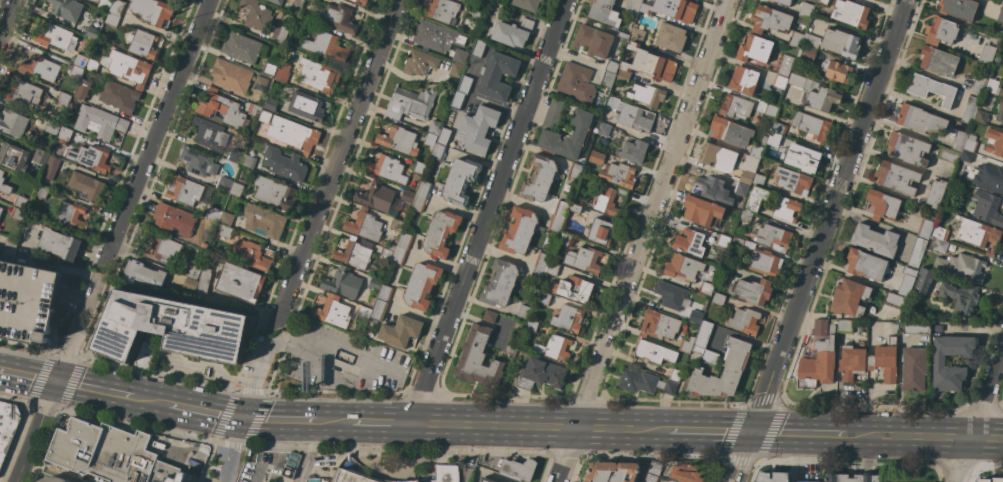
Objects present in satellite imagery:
building: (315, 1)
building: (823, 1)
building: (276, 2)
building: (299, 2)
building: (360, 2)
building: (783, 2)
building: (1002, 2)
building: (105, 4)
building: (528, 4)
building: (117, 7)
building: (958, 8)
building: (66, 9)
building: (633, 9)
building: (673, 9)
building: (442, 10)
building: (806, 10)
building: (152, 11)
building: (604, 12)
building: (255, 13)
building: (850, 13)
building: (1000, 14)
road: (6, 16)
building: (335, 16)
building: (112, 19)
building: (770, 19)
building: (300, 22)
building: (941, 31)
building: (93, 32)
building: (281, 32)
building: (513, 32)
building: (623, 35)
building: (637, 35)
building: (56, 37)
building: (671, 37)
building: (440, 39)
building: (796, 39)
building: (811, 40)
building: (593, 41)
building: (142, 43)
building: (840, 43)
building: (242, 47)
building: (326, 47)
building: (478, 48)
building: (755, 48)
building: (808, 53)
building: (987, 53)
building: (81, 60)
building: (938, 60)
building: (419, 62)
building: (612, 63)
building: (649, 63)
building: (1002, 63)
building: (785, 64)
building: (123, 67)
building: (39, 68)
building: (269, 69)
building: (455, 69)
building: (836, 70)
building: (76, 71)
building: (282, 72)
building: (318, 75)
building: (231, 76)
building: (497, 76)
building: (622, 76)
building: (607, 80)
building: (744, 80)
building: (779, 81)
building: (802, 82)
building: (260, 83)
building: (577, 83)
building: (465, 84)
building: (979, 84)
building: (994, 87)
building: (931, 88)
building: (83, 89)
building: (24, 94)
building: (647, 95)
building: (118, 96)
building: (62, 99)
building: (822, 99)
building: (458, 100)
building: (410, 103)
building: (270, 104)
building: (306, 106)
building: (736, 106)
building: (221, 109)
building: (254, 109)
building: (970, 109)
building: (771, 110)
building: (1000, 111)
building: (630, 115)
building: (264, 116)
building: (982, 116)
building: (919, 119)
building: (99, 122)
building: (13, 123)
building: (812, 125)
building: (435, 127)
building: (580, 127)
building: (52, 128)
building: (479, 128)
building: (779, 128)
building: (603, 129)
building: (729, 131)
road: (154, 133)
building: (293, 133)
building: (64, 134)
building: (210, 134)
building: (445, 136)
building: (774, 138)
building: (397, 139)
building: (430, 139)
building: (763, 140)
building: (959, 142)
building: (994, 142)
building: (971, 143)
building: (907, 148)
building: (633, 150)
building: (438, 151)
building: (756, 151)
building: (949, 154)
building: (236, 156)
building: (967, 156)
building: (40, 157)
building: (596, 157)
building: (719, 157)
building: (13, 158)
building: (94, 158)
building: (806, 160)
building: (197, 161)
building: (248, 161)
road: (337, 161)
building: (284, 164)
building: (51, 167)
building: (387, 168)
building: (418, 168)
building: (748, 169)
building: (575, 171)
building: (618, 174)
building: (897, 177)
building: (989, 177)
building: (538, 179)
building: (759, 179)
building: (793, 180)
building: (460, 181)
building: (4, 184)
building: (224, 184)
building: (86, 185)
building: (709, 186)
building: (237, 187)
building: (741, 188)
building: (424, 189)
building: (184, 190)
building: (41, 191)
building: (7, 193)
building: (274, 193)
building: (935, 193)
building: (376, 196)
building: (408, 196)
building: (756, 198)
building: (608, 200)
building: (21, 201)
building: (419, 204)
building: (883, 205)
building: (987, 207)
building: (561, 208)
building: (574, 208)
building: (786, 208)
building: (1, 209)
road: (488, 210)
building: (702, 211)
building: (17, 214)
building: (216, 214)
building: (71, 215)
building: (28, 216)
building: (746, 216)
building: (173, 219)
building: (264, 221)
building: (555, 223)
building: (394, 224)
building: (364, 225)
building: (219, 226)
building: (925, 227)
building: (225, 231)
building: (519, 231)
building: (601, 231)
building: (441, 233)
building: (941, 233)
building: (978, 234)
building: (774, 237)
building: (564, 239)
building: (875, 239)
building: (405, 241)
road: (642, 241)
building: (723, 241)
road: (821, 241)
building: (690, 242)
building: (58, 244)
building: (203, 245)
building: (940, 245)
building: (163, 247)
building: (8, 249)
building: (917, 252)
building: (354, 253)
building: (385, 254)
building: (250, 255)
building: (399, 256)
building: (760, 258)
building: (584, 259)
building: (542, 261)
building: (716, 262)
building: (865, 264)
road: (49, 266)
building: (962, 266)
building: (683, 267)
building: (553, 268)
building: (726, 268)
road: (99, 271)
building: (192, 272)
building: (143, 274)
building: (537, 275)
building: (923, 280)
building: (906, 281)
building: (240, 282)
building: (342, 282)
building: (203, 283)
building: (375, 283)
building: (500, 283)
building: (421, 285)
building: (706, 288)
building: (574, 289)
building: (755, 290)
building: (385, 293)
building: (670, 294)
building: (849, 297)
building: (543, 298)
building: (718, 299)
building: (960, 299)
building: (894, 300)
building: (26, 301)
parking lot: (26, 301)
building: (379, 310)
building: (332, 311)
building: (364, 312)
building: (523, 313)
building: (490, 316)
building: (695, 316)
building: (568, 318)
building: (745, 321)
building: (658, 324)
building: (845, 326)
building: (170, 327)
building: (531, 327)
building: (895, 327)
building: (916, 327)
road: (76, 328)
building: (819, 328)
building: (937, 328)
road: (975, 330)
building: (401, 331)
building: (514, 336)
building: (701, 337)
road: (293, 343)
road: (25, 345)
building: (686, 345)
building: (554, 348)
road: (357, 350)
building: (146, 351)
building: (654, 351)
building: (736, 351)
building: (709, 357)
building: (478, 359)
building: (885, 360)
building: (851, 362)
building: (938, 362)
building: (818, 364)
building: (913, 369)
building: (540, 374)
building: (675, 374)
road: (27, 375)
traffic signals: (55, 381)
building: (714, 381)
road: (256, 382)
building: (644, 382)
road: (94, 390)
road: (14, 399)
building: (932, 401)
road: (153, 402)
road: (58, 410)
road: (207, 412)
road: (977, 413)
building: (5, 417)
traffic signals: (243, 419)
road: (281, 419)
road: (447, 422)
road: (619, 428)
road: (34, 431)
road: (707, 431)
traffic signals: (752, 432)
road: (801, 433)
building: (9, 434)
road: (926, 436)
road: (230, 450)
building: (202, 451)
road: (307, 451)
building: (110, 454)
building: (655, 468)
building: (518, 469)
building: (685, 471)
building: (612, 472)
building: (198, 473)
building: (446, 473)
building: (357, 477)
building: (772, 477)
building: (852, 478)
building: (54, 479)
building: (486, 479)
building: (650, 479)
building: (318, 480)
building: (983, 480)
building: (808, 481)

